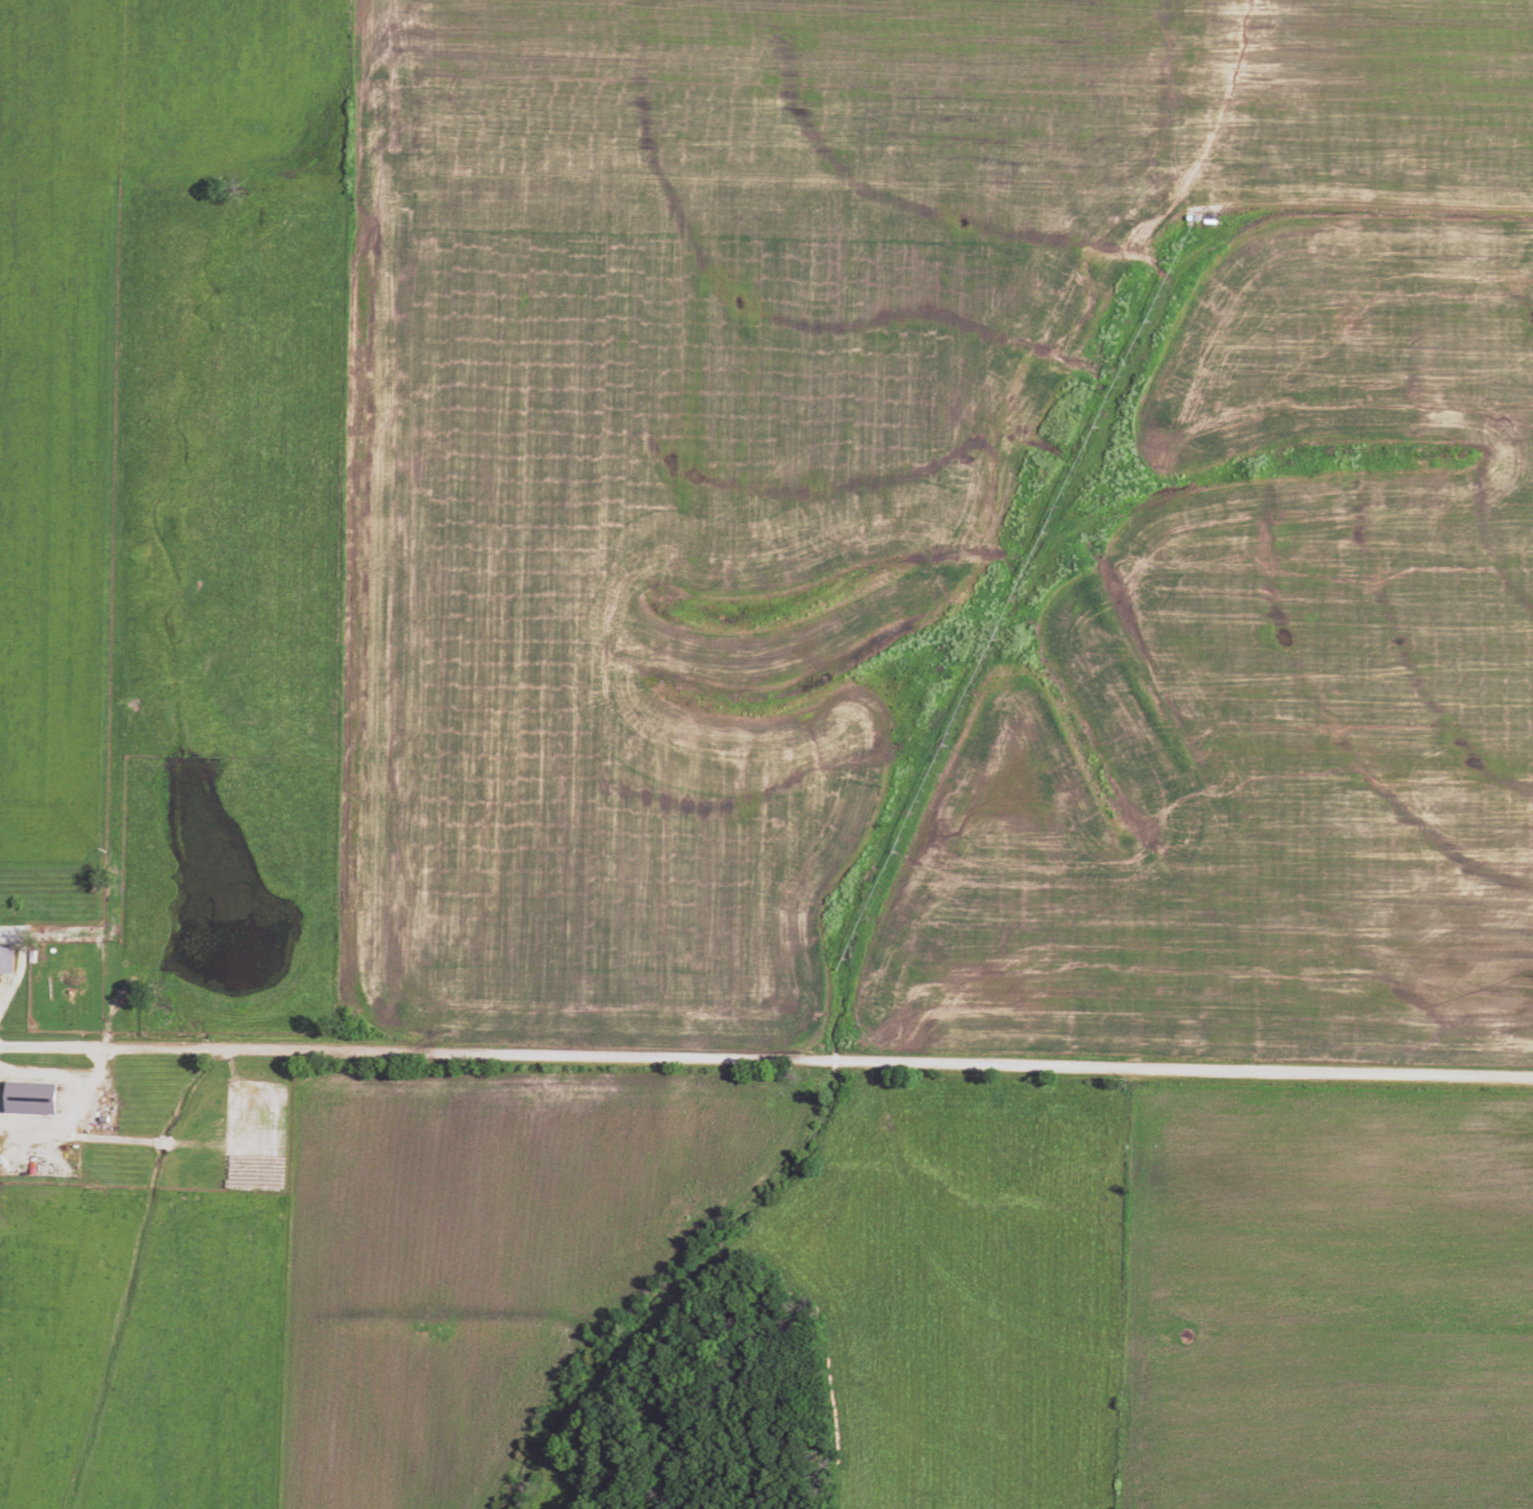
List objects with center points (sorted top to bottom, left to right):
road: (766, 1061)
road: (60, 1077)
building: (30, 1094)

